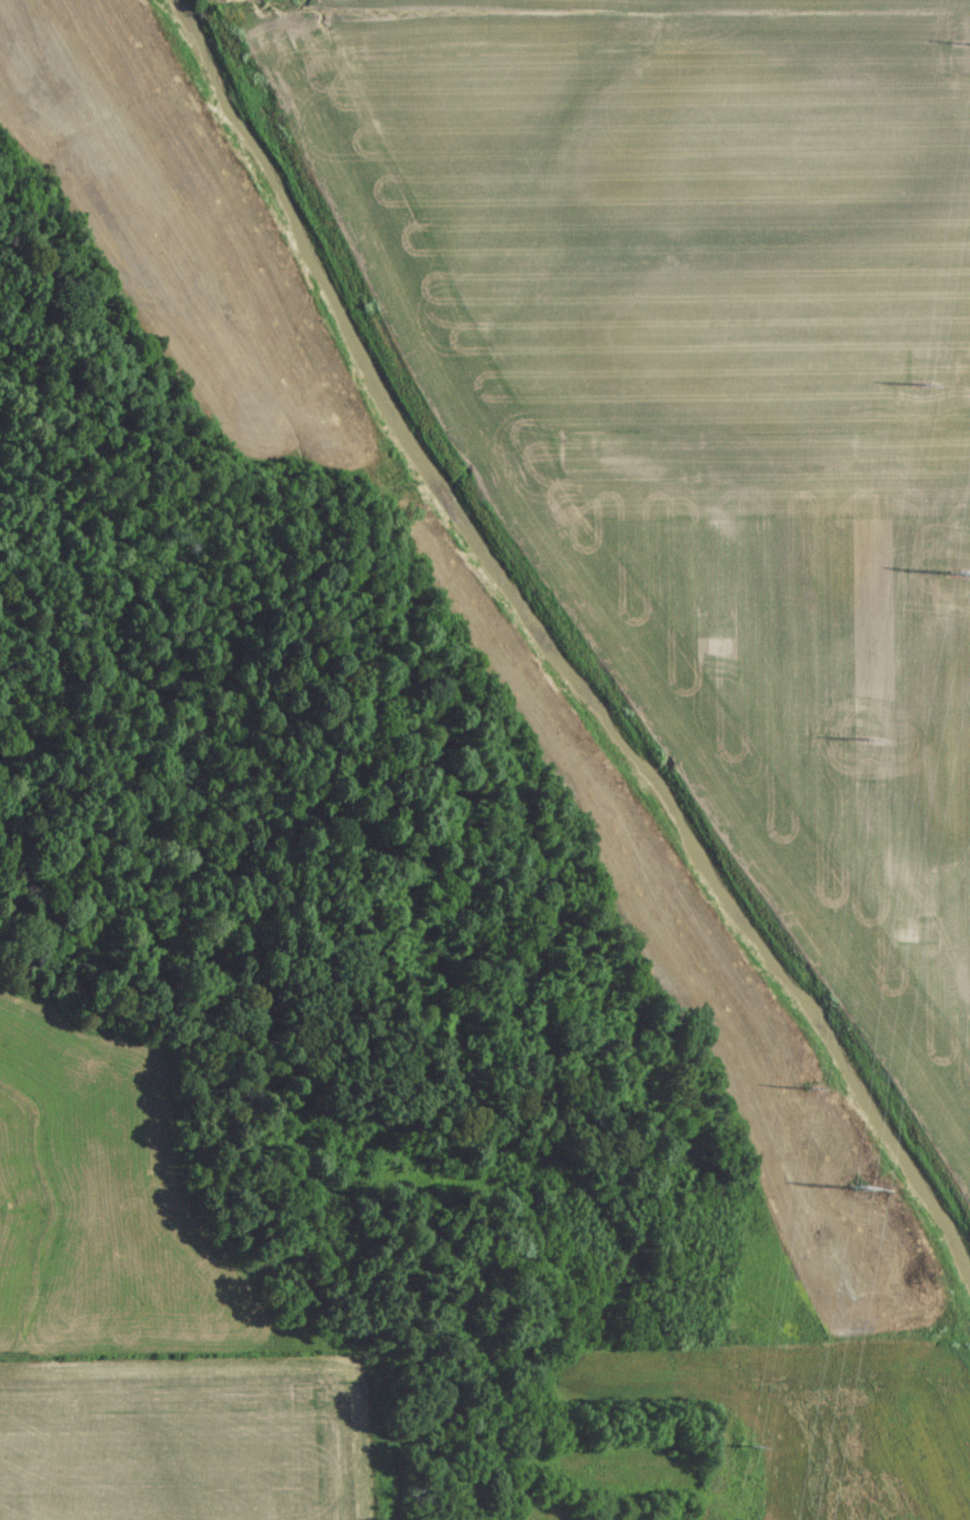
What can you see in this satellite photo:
power tower: (957, 581)
power tower: (858, 1194)

